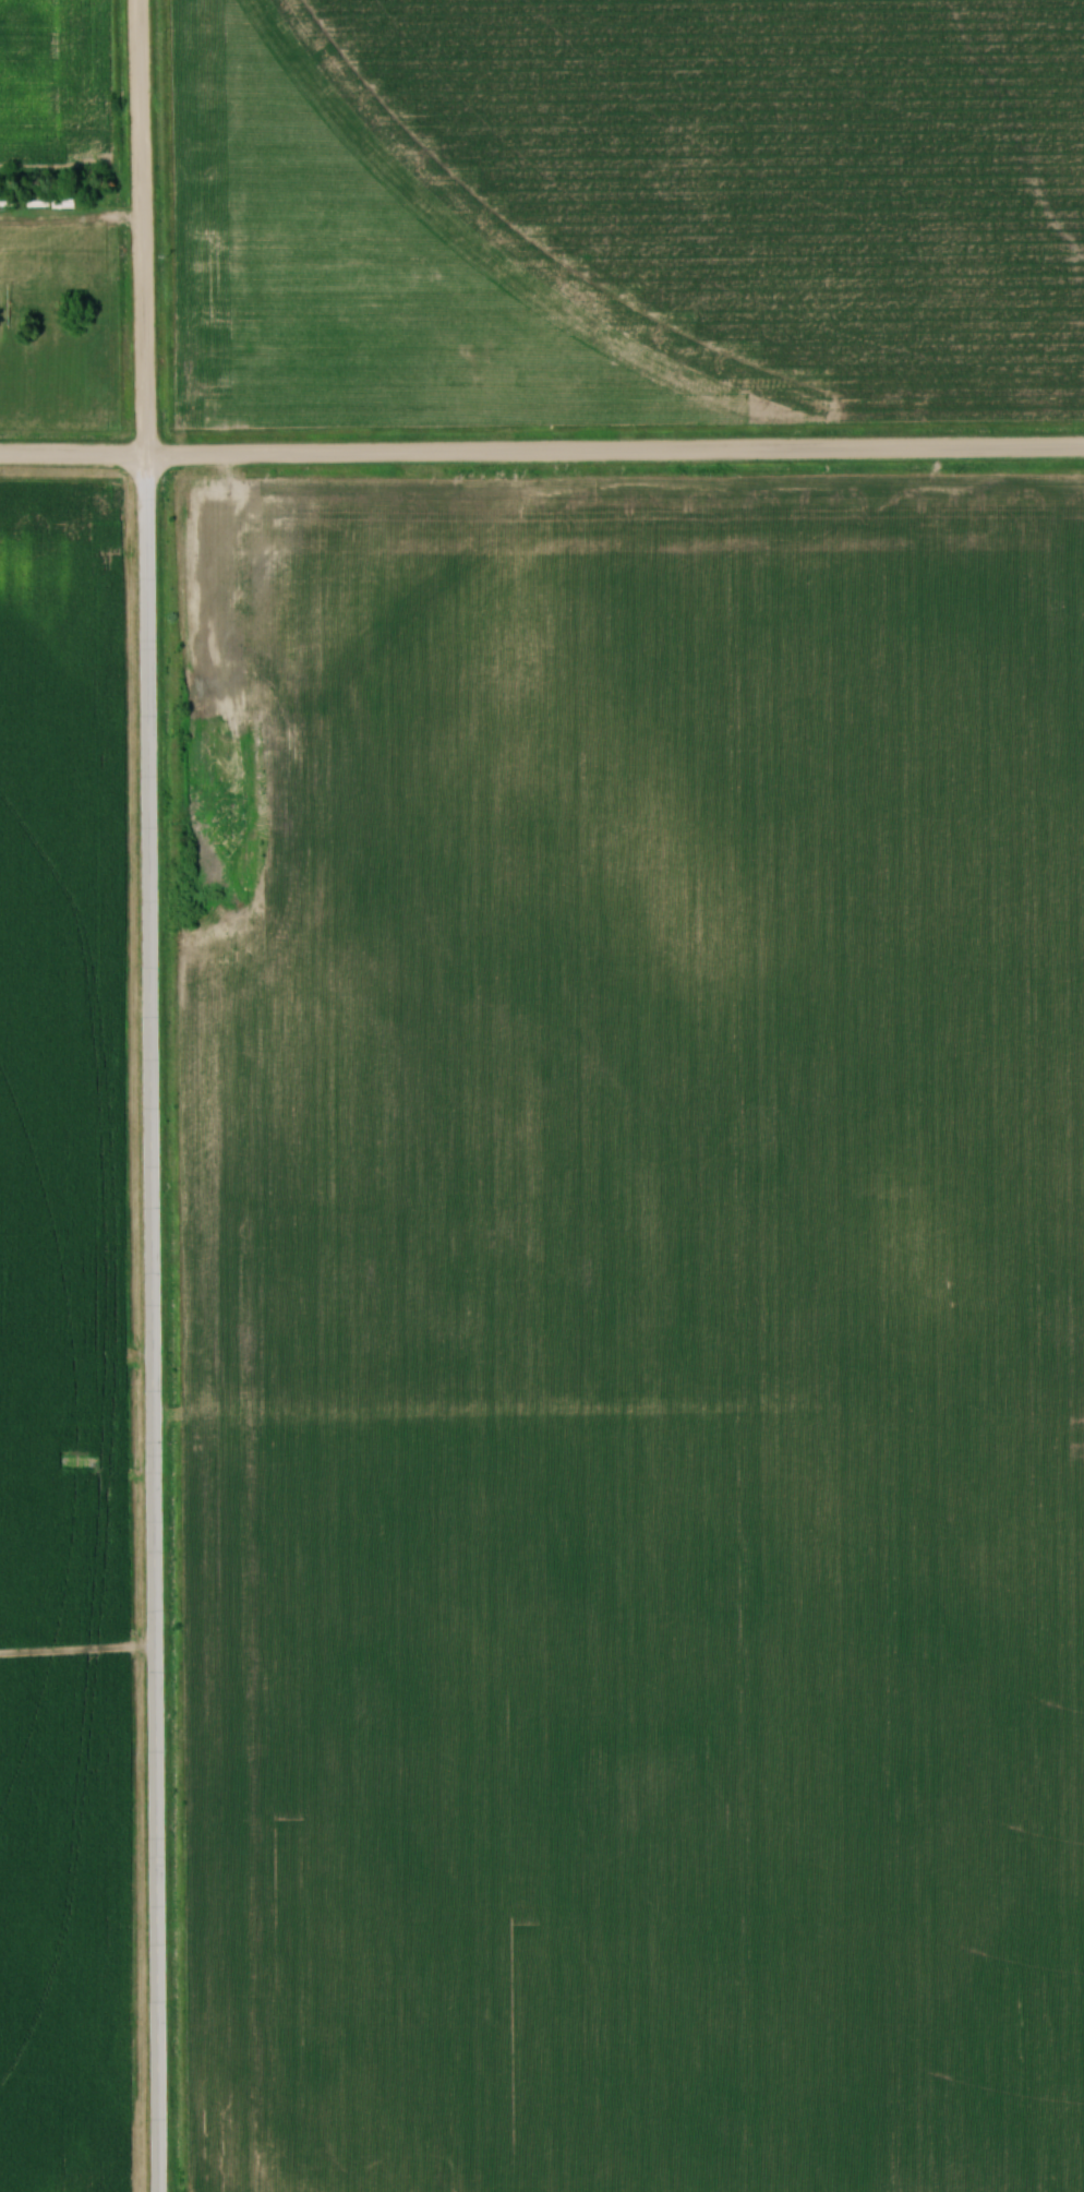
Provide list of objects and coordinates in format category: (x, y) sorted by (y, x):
road: (137, 230)
road: (542, 458)
road: (145, 1327)

